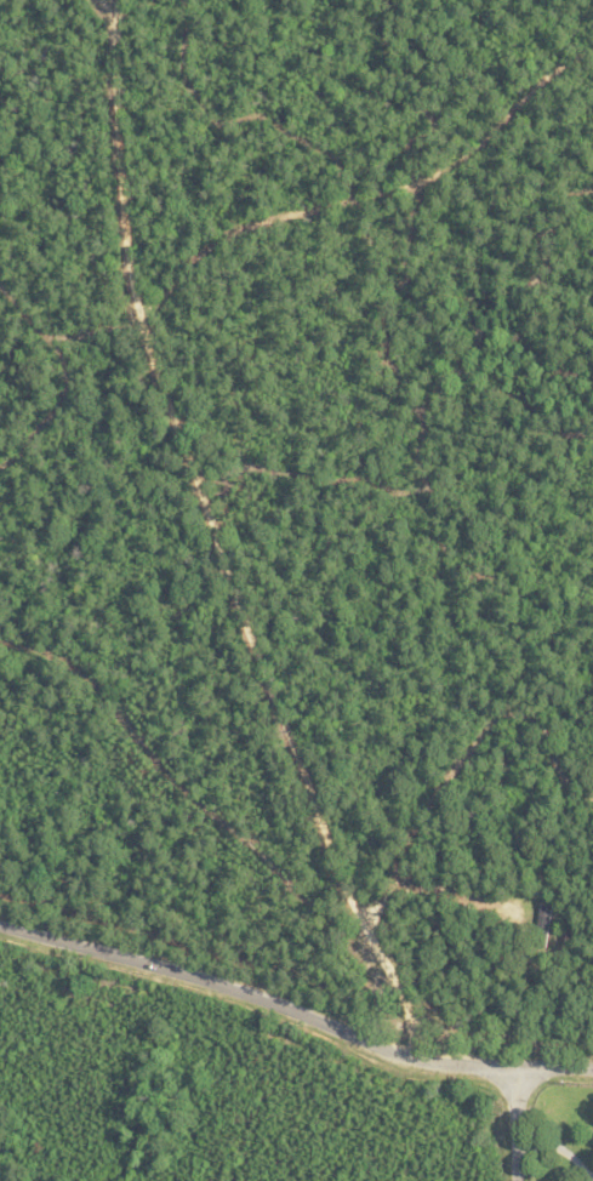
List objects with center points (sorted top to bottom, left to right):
road: (222, 541)
road: (293, 1016)
road: (512, 1125)

